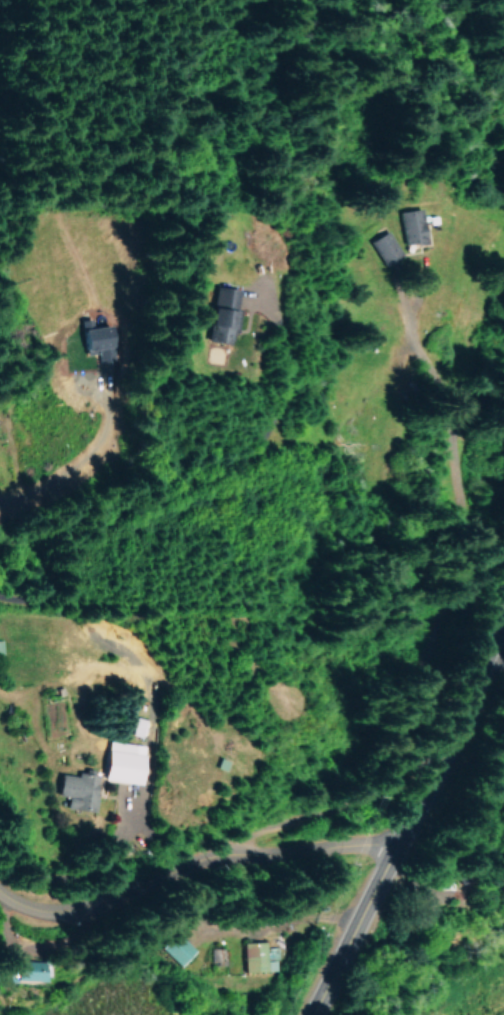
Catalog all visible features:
building: (409, 225)
building: (384, 247)
building: (220, 314)
building: (96, 336)
building: (0, 646)
building: (122, 761)
building: (76, 789)
road: (422, 805)
road: (198, 833)
road: (425, 872)
building: (176, 947)
building: (255, 957)
building: (25, 969)

